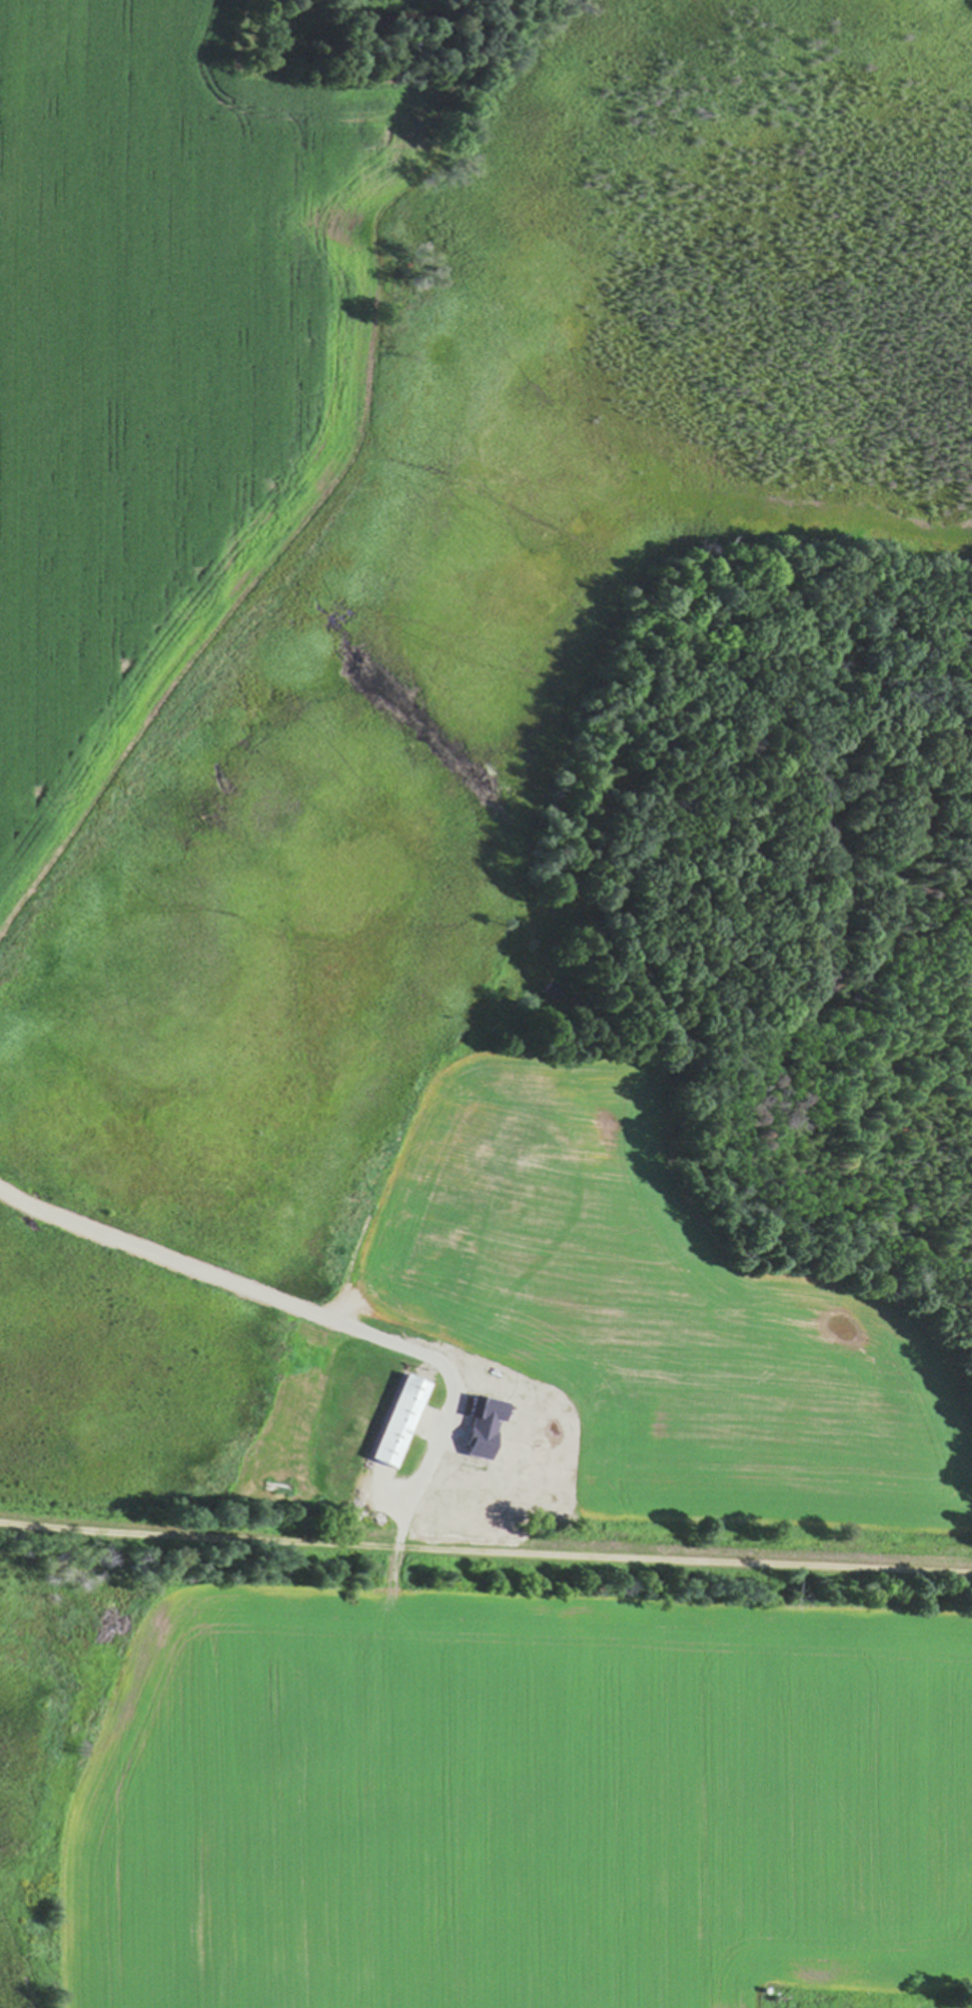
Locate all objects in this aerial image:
road: (249, 1287)
building: (357, 1398)
building: (484, 1411)
road: (485, 1550)

